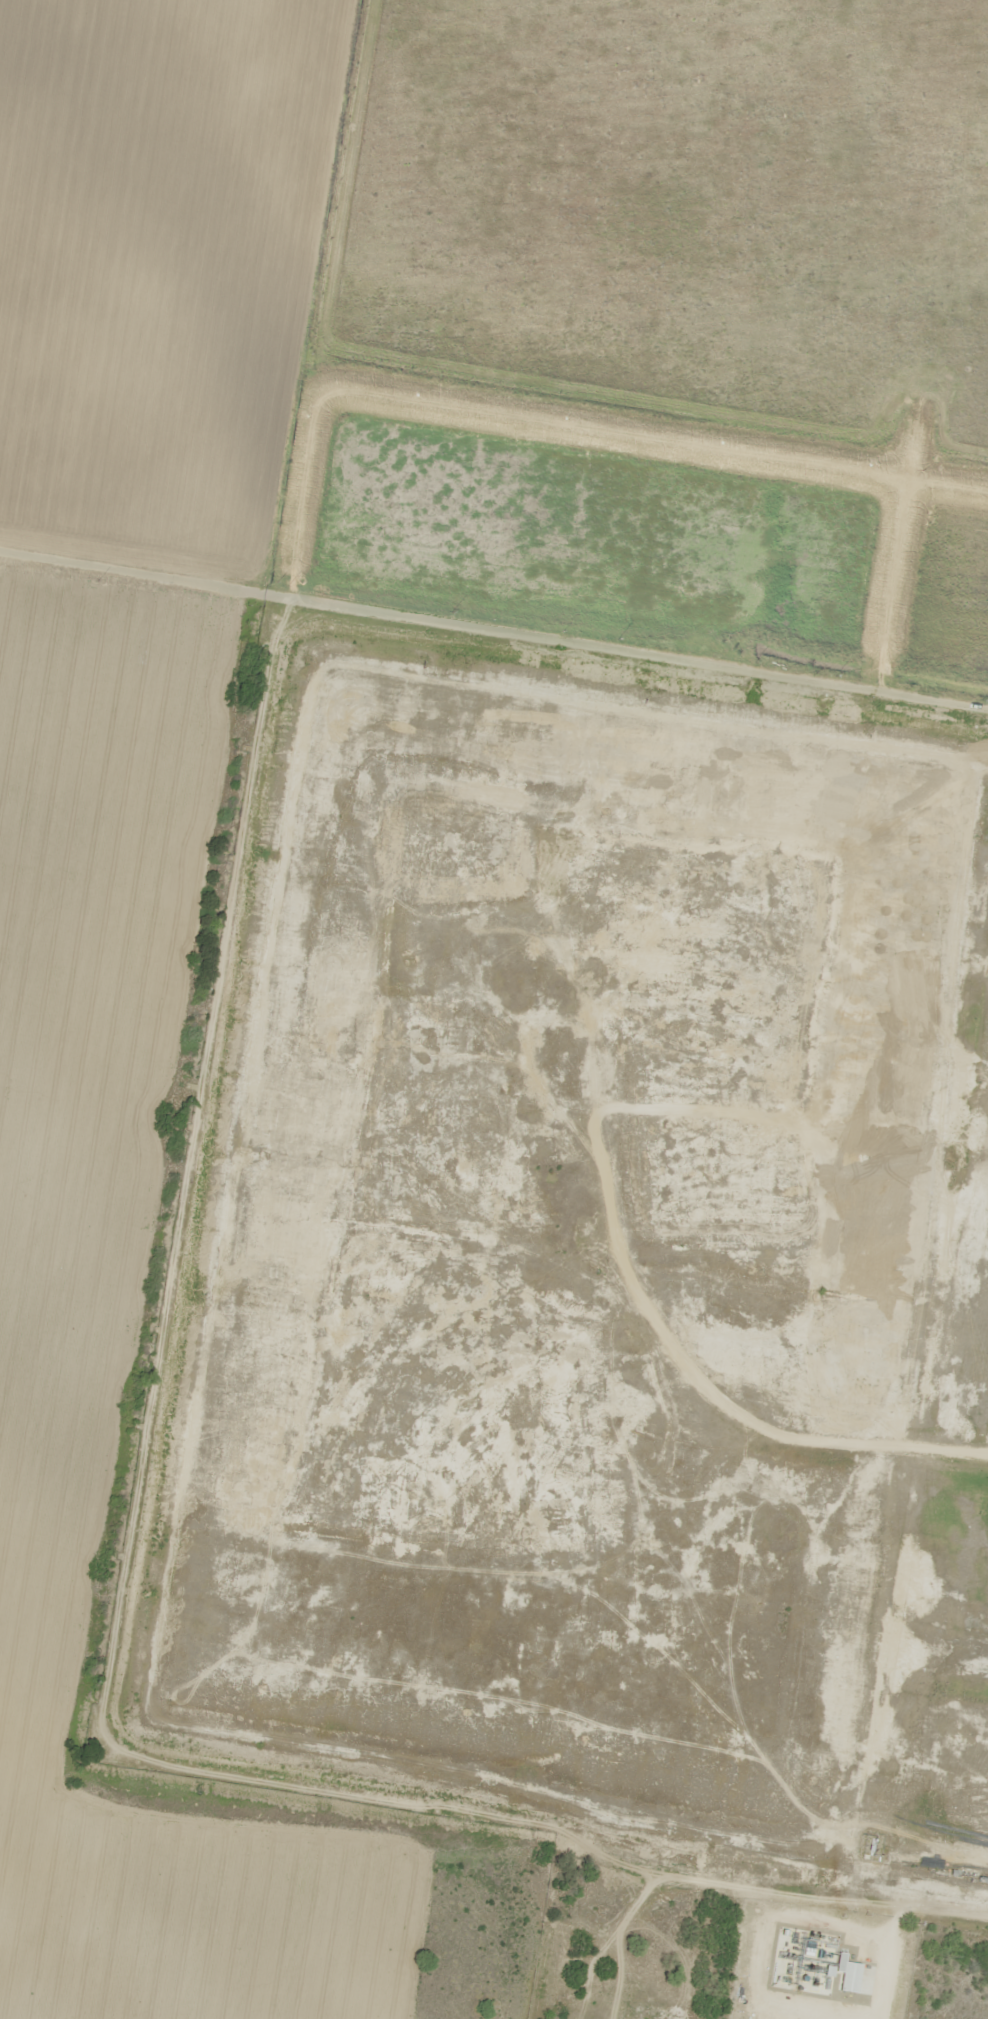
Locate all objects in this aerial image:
road: (494, 635)

